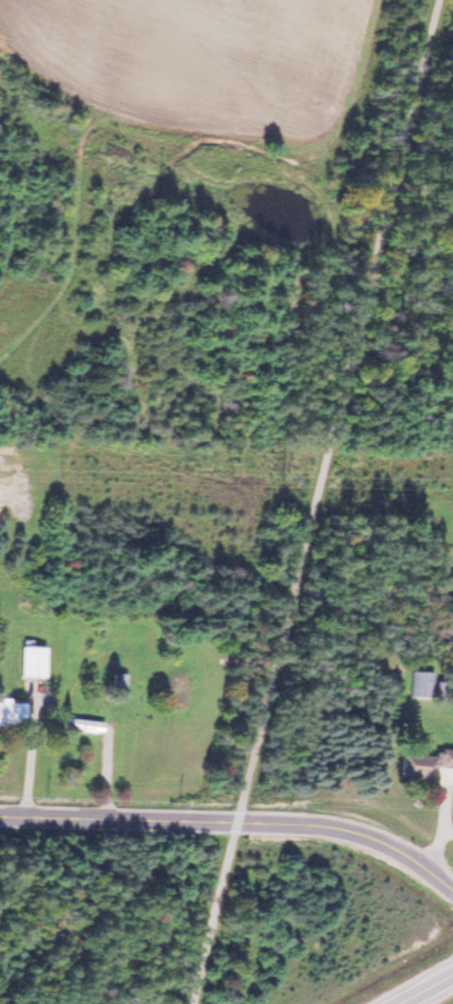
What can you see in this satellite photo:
road: (314, 501)
building: (29, 657)
building: (418, 682)
building: (116, 683)
building: (10, 710)
building: (422, 760)
road: (235, 820)
road: (425, 989)

